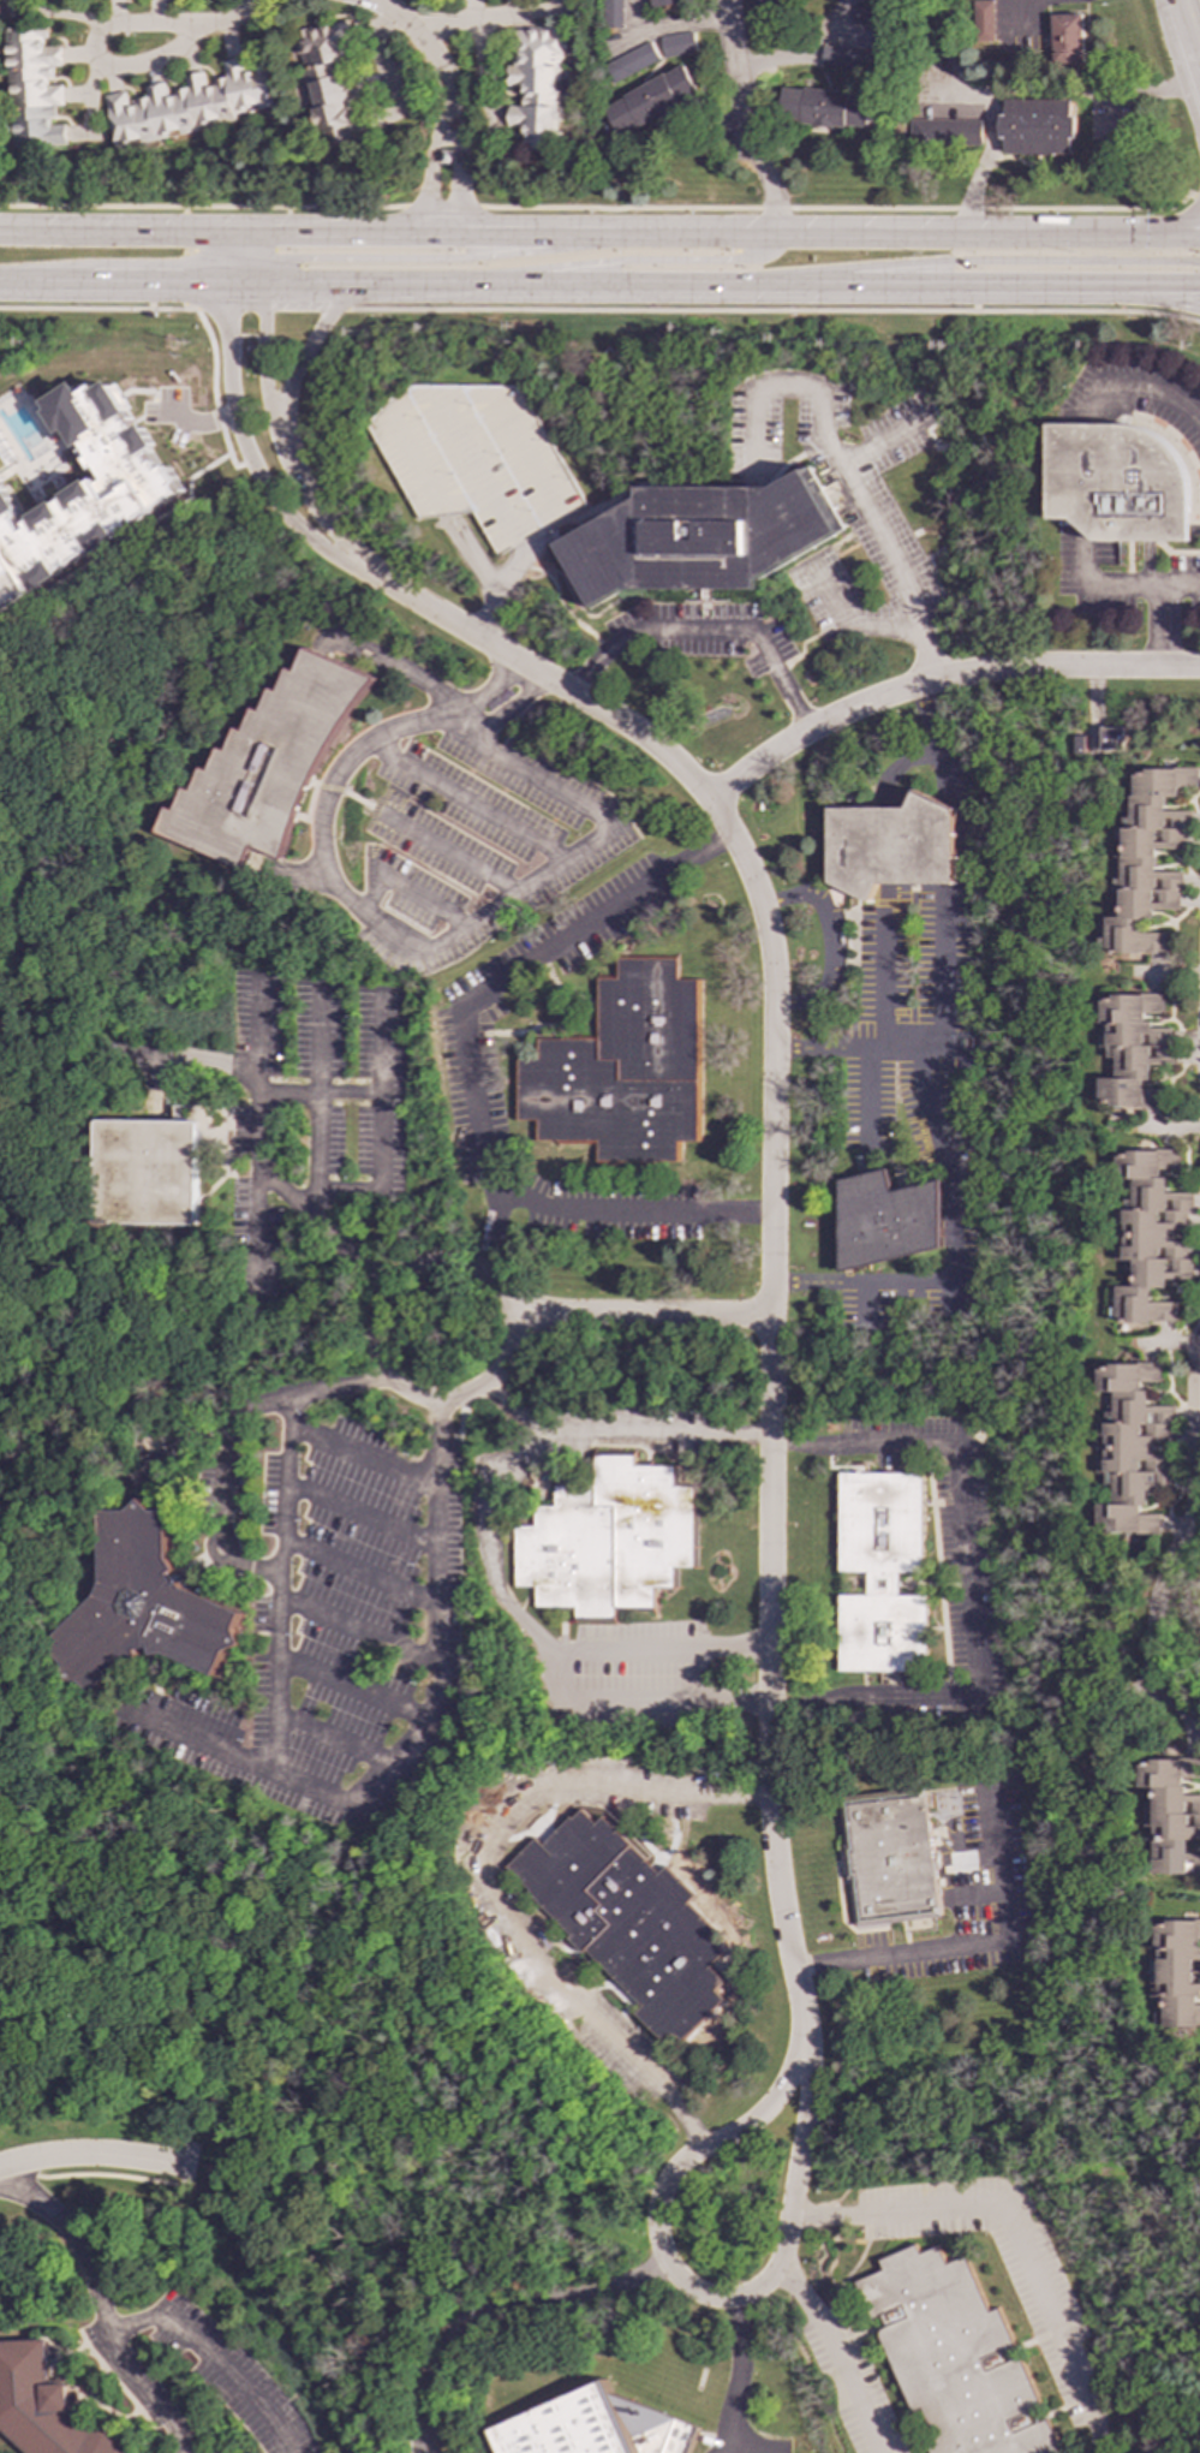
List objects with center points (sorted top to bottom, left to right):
building: (662, 2)
building: (774, 6)
road: (1182, 11)
building: (868, 12)
building: (610, 13)
road: (228, 18)
road: (471, 19)
building: (981, 20)
road: (108, 28)
road: (665, 32)
road: (418, 37)
building: (1068, 38)
road: (1193, 41)
building: (676, 44)
road: (801, 50)
building: (847, 59)
building: (629, 61)
road: (1177, 70)
building: (327, 82)
building: (536, 85)
building: (32, 89)
building: (650, 101)
building: (189, 105)
building: (826, 108)
road: (741, 118)
building: (1038, 126)
building: (943, 133)
road: (460, 162)
road: (431, 163)
road: (985, 166)
road: (1193, 196)
road: (202, 208)
road: (442, 208)
road: (835, 208)
road: (1184, 224)
road: (120, 232)
road: (720, 234)
road: (251, 246)
road: (184, 257)
road: (466, 258)
road: (626, 260)
road: (979, 260)
traffic signals: (1199, 261)
road: (239, 266)
road: (262, 272)
road: (112, 284)
road: (243, 284)
road: (730, 284)
road: (1027, 298)
road: (96, 308)
road: (269, 309)
road: (772, 310)
road: (308, 350)
road: (263, 357)
road: (1140, 386)
road: (211, 394)
road: (429, 397)
road: (198, 423)
building: (462, 442)
road: (882, 443)
road: (245, 452)
road: (848, 478)
building: (1117, 481)
building: (85, 489)
road: (310, 504)
building: (698, 537)
road: (1177, 584)
road: (1141, 585)
road: (859, 625)
road: (706, 632)
road: (542, 677)
road: (939, 680)
road: (485, 691)
road: (511, 712)
road: (932, 737)
building: (1111, 738)
building: (263, 768)
building: (891, 845)
building: (1147, 861)
road: (831, 940)
road: (440, 947)
road: (942, 982)
road: (480, 994)
road: (885, 1035)
road: (386, 1048)
building: (1132, 1049)
building: (623, 1070)
road: (321, 1091)
road: (872, 1092)
road: (384, 1124)
road: (258, 1168)
building: (147, 1172)
road: (632, 1214)
building: (885, 1220)
road: (257, 1225)
building: (1148, 1234)
road: (951, 1237)
road: (645, 1316)
road: (375, 1341)
road: (771, 1409)
road: (617, 1439)
building: (1132, 1448)
road: (223, 1484)
road: (287, 1535)
building: (607, 1540)
road: (1181, 1543)
building: (882, 1572)
road: (966, 1583)
building: (142, 1607)
road: (536, 1633)
road: (632, 1703)
road: (422, 1722)
building: (1170, 1815)
building: (889, 1860)
road: (476, 1875)
building: (626, 1922)
road: (971, 1947)
road: (95, 2157)
road: (1014, 2232)
road: (74, 2244)
road: (693, 2292)
road: (495, 2306)
road: (836, 2353)
road: (211, 2357)
building: (953, 2357)
road: (739, 2375)
road: (148, 2392)
building: (44, 2407)
building: (592, 2428)

